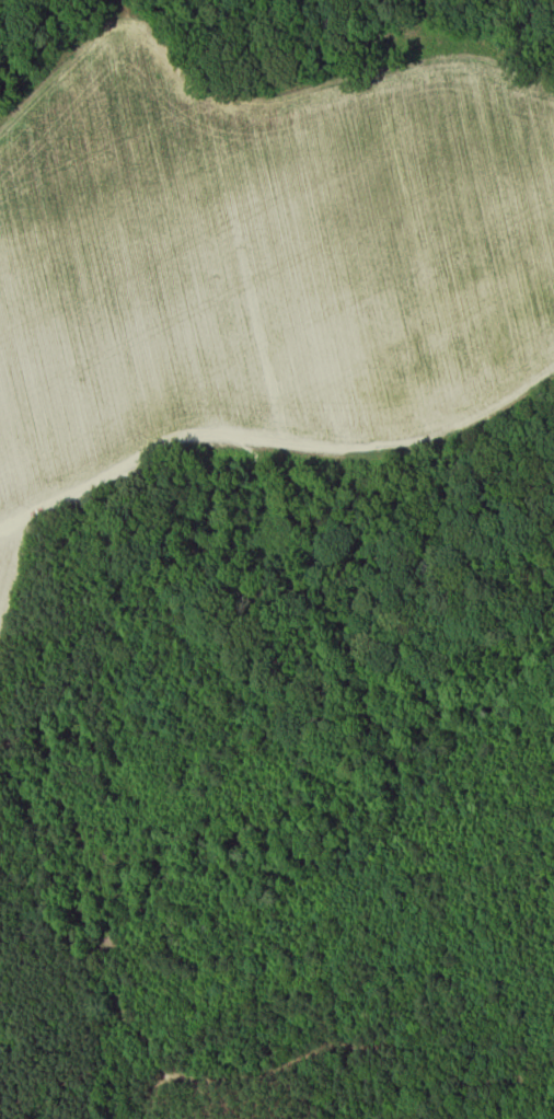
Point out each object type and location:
road: (14, 533)

